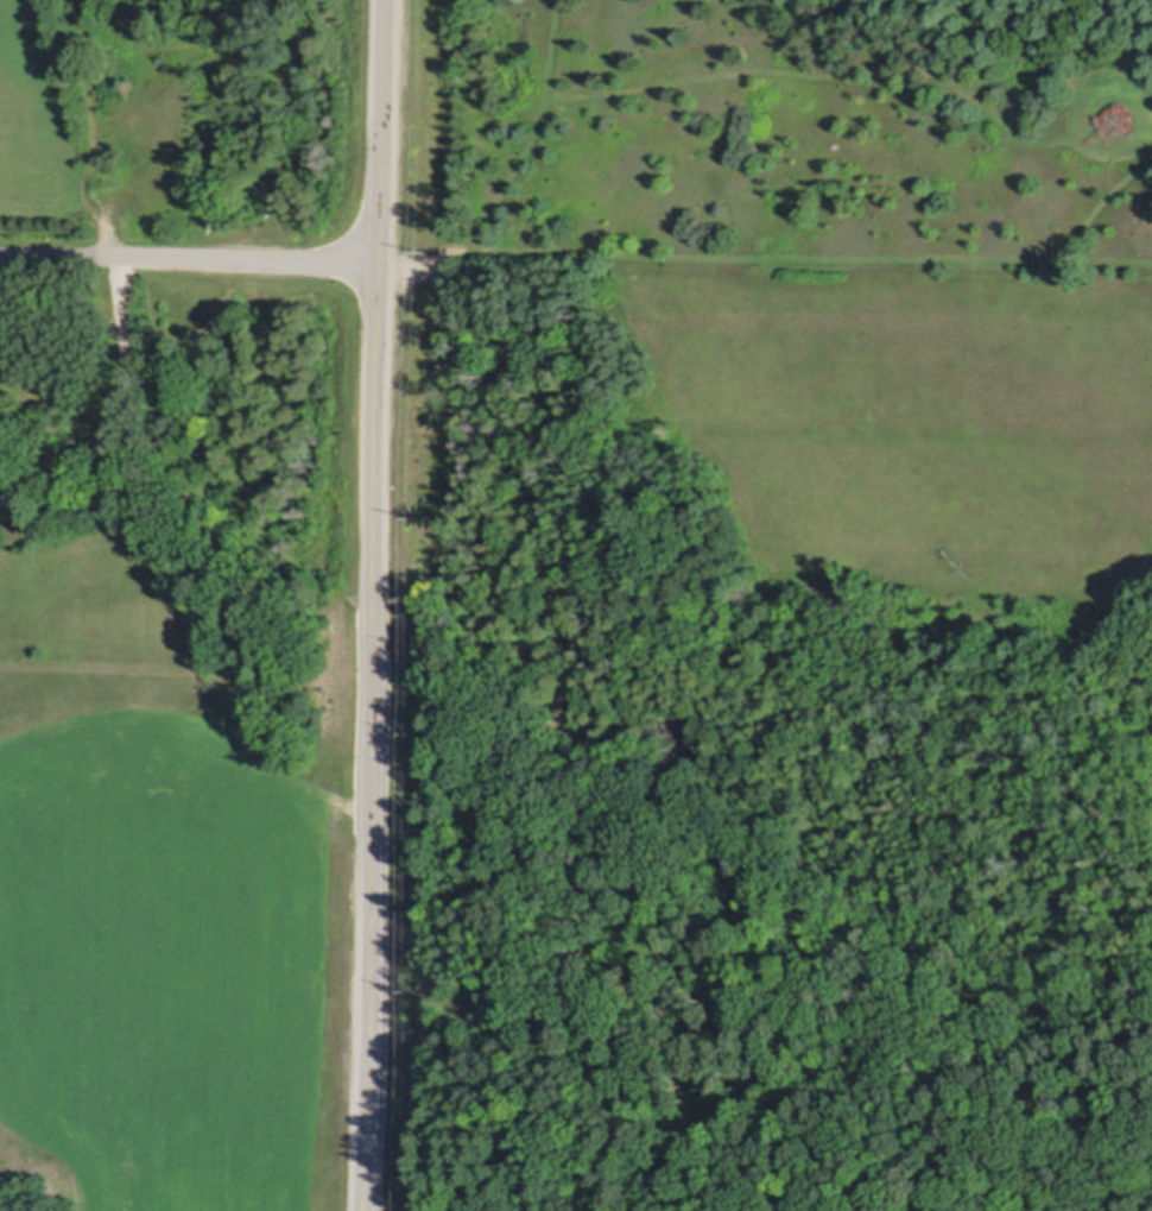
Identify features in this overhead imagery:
road: (97, 126)
road: (191, 253)
road: (376, 605)

